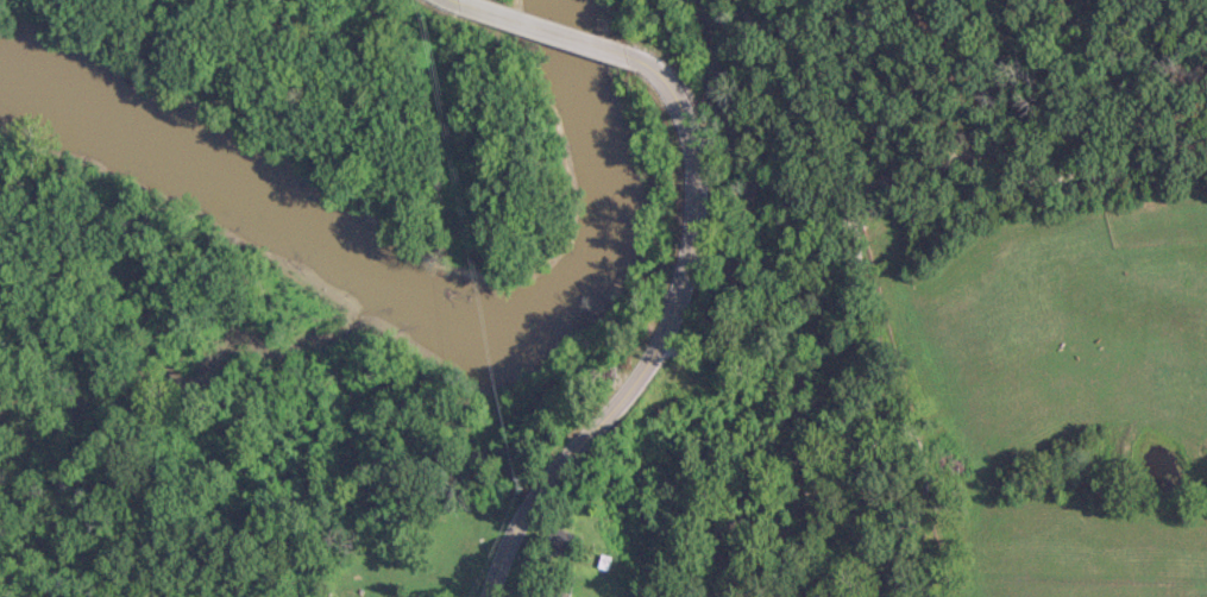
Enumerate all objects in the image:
road: (504, 17)
road: (678, 306)
building: (562, 541)

